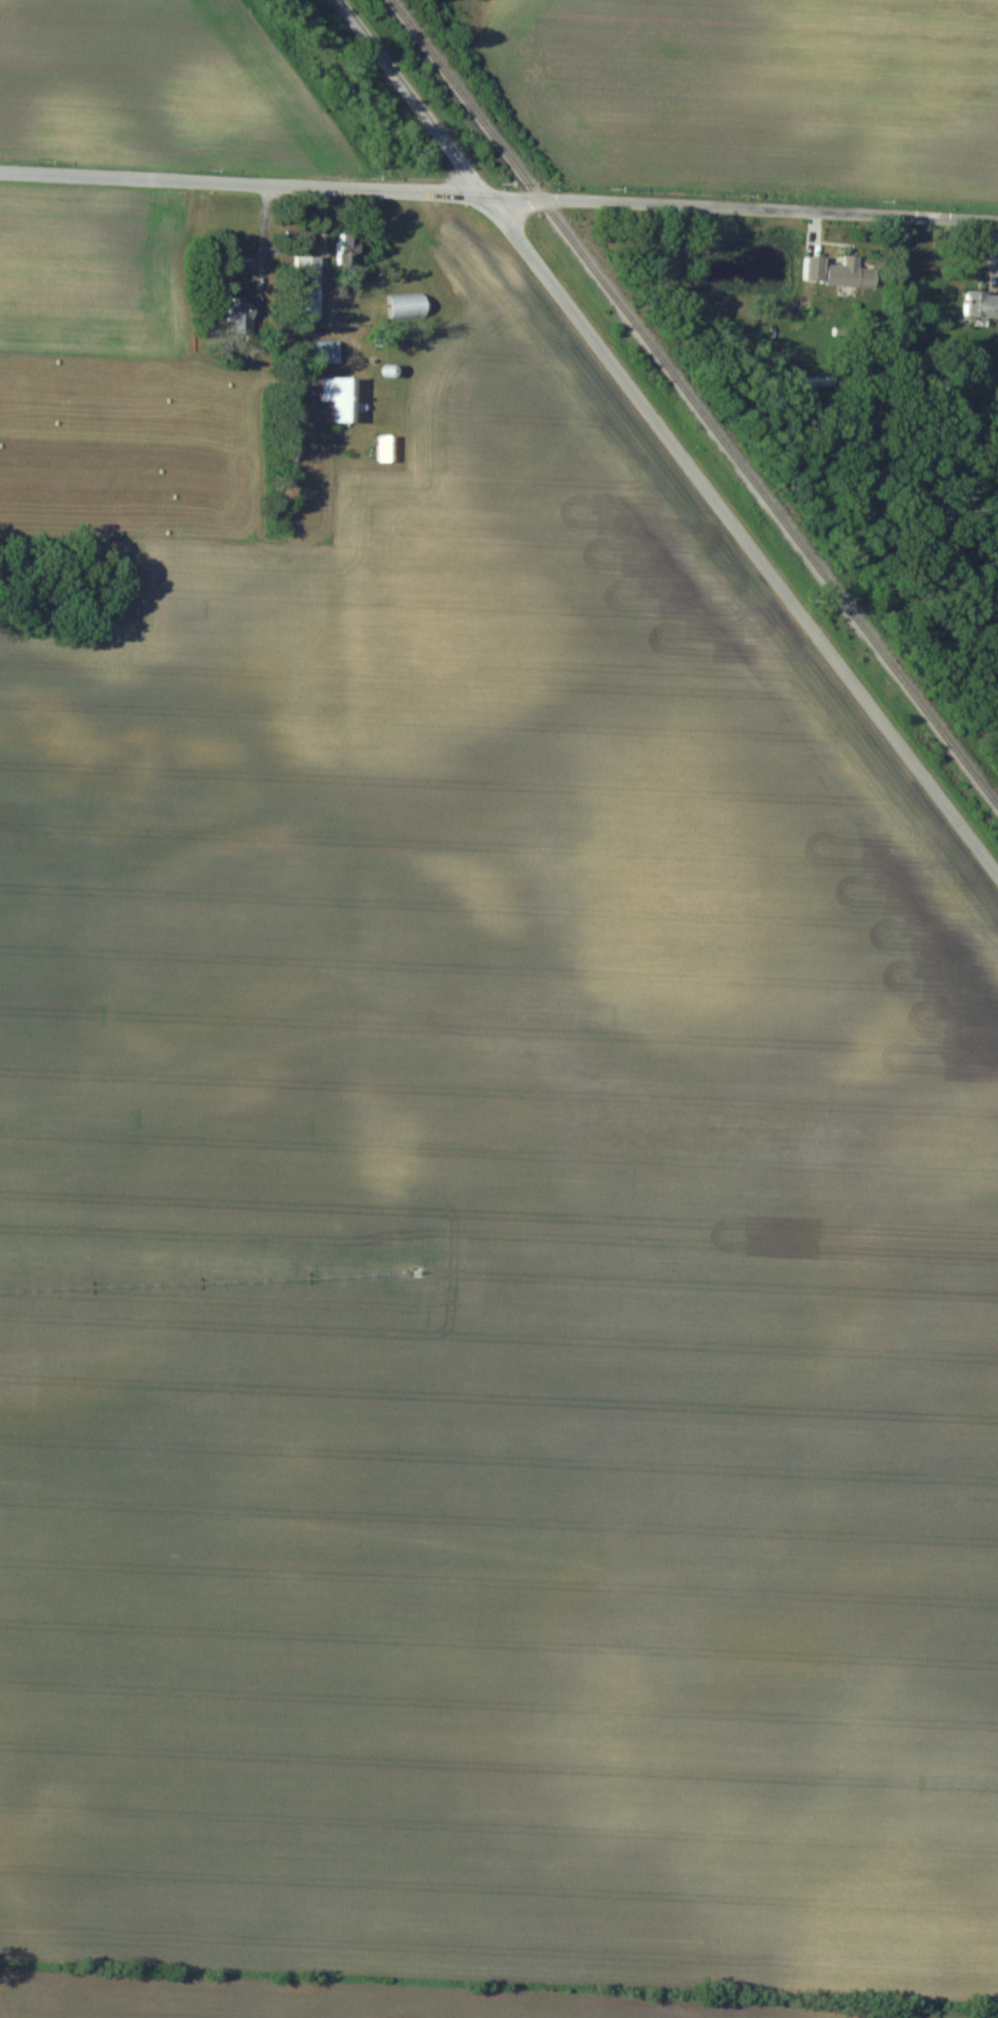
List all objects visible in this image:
road: (412, 97)
road: (242, 182)
road: (741, 206)
building: (842, 271)
building: (303, 286)
building: (975, 304)
building: (402, 305)
building: (236, 309)
building: (322, 351)
building: (335, 398)
railway: (694, 402)
building: (383, 448)
road: (742, 533)

